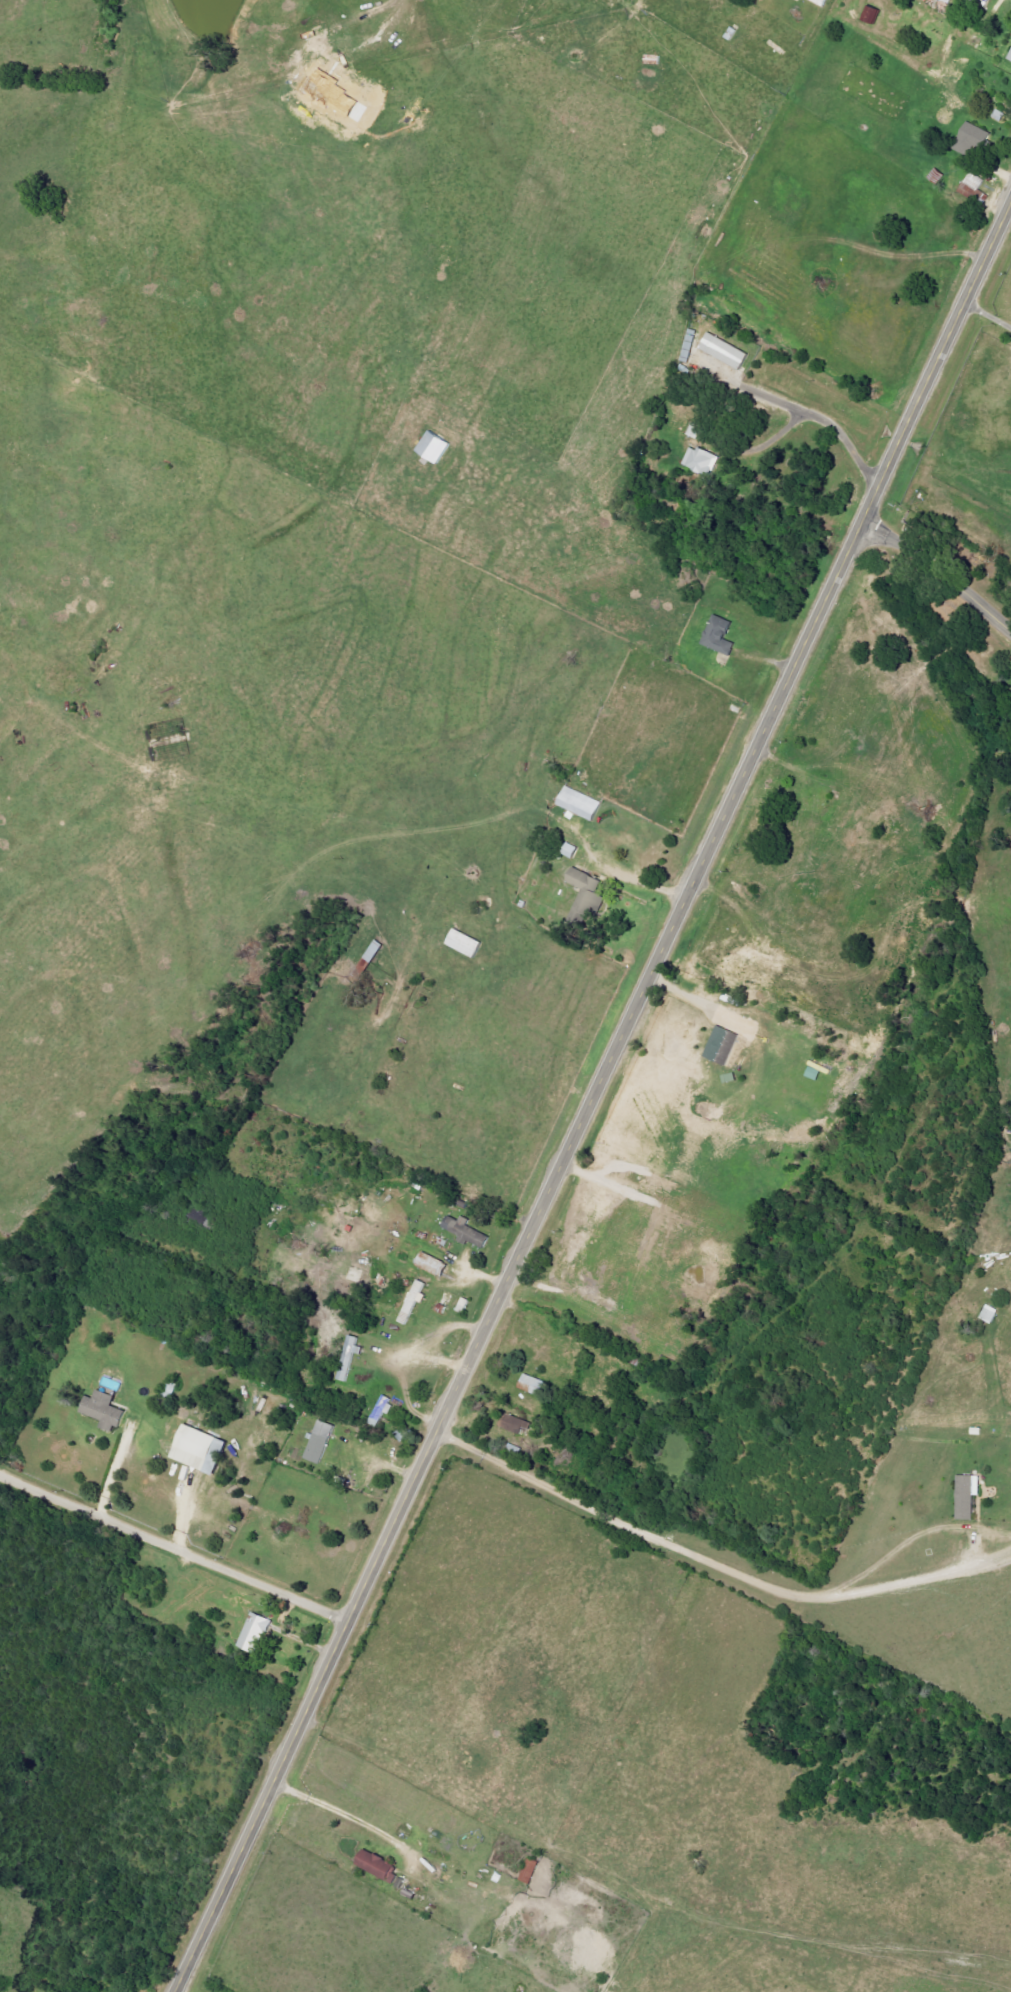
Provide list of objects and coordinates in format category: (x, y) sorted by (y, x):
building: (945, 1)
building: (819, 2)
building: (869, 15)
building: (1009, 57)
building: (971, 138)
road: (989, 314)
building: (722, 351)
road: (829, 423)
building: (432, 448)
building: (699, 460)
road: (937, 573)
park: (947, 587)
building: (717, 635)
road: (631, 880)
building: (582, 895)
building: (461, 943)
building: (719, 1045)
road: (596, 1099)
building: (463, 1230)
building: (429, 1263)
building: (411, 1302)
building: (349, 1359)
building: (534, 1384)
building: (107, 1410)
building: (381, 1410)
building: (513, 1424)
building: (318, 1442)
building: (204, 1449)
building: (965, 1495)
road: (175, 1544)
road: (719, 1554)
building: (256, 1631)
road: (350, 1816)
building: (381, 1866)
building: (528, 1870)
park: (121, 1889)

